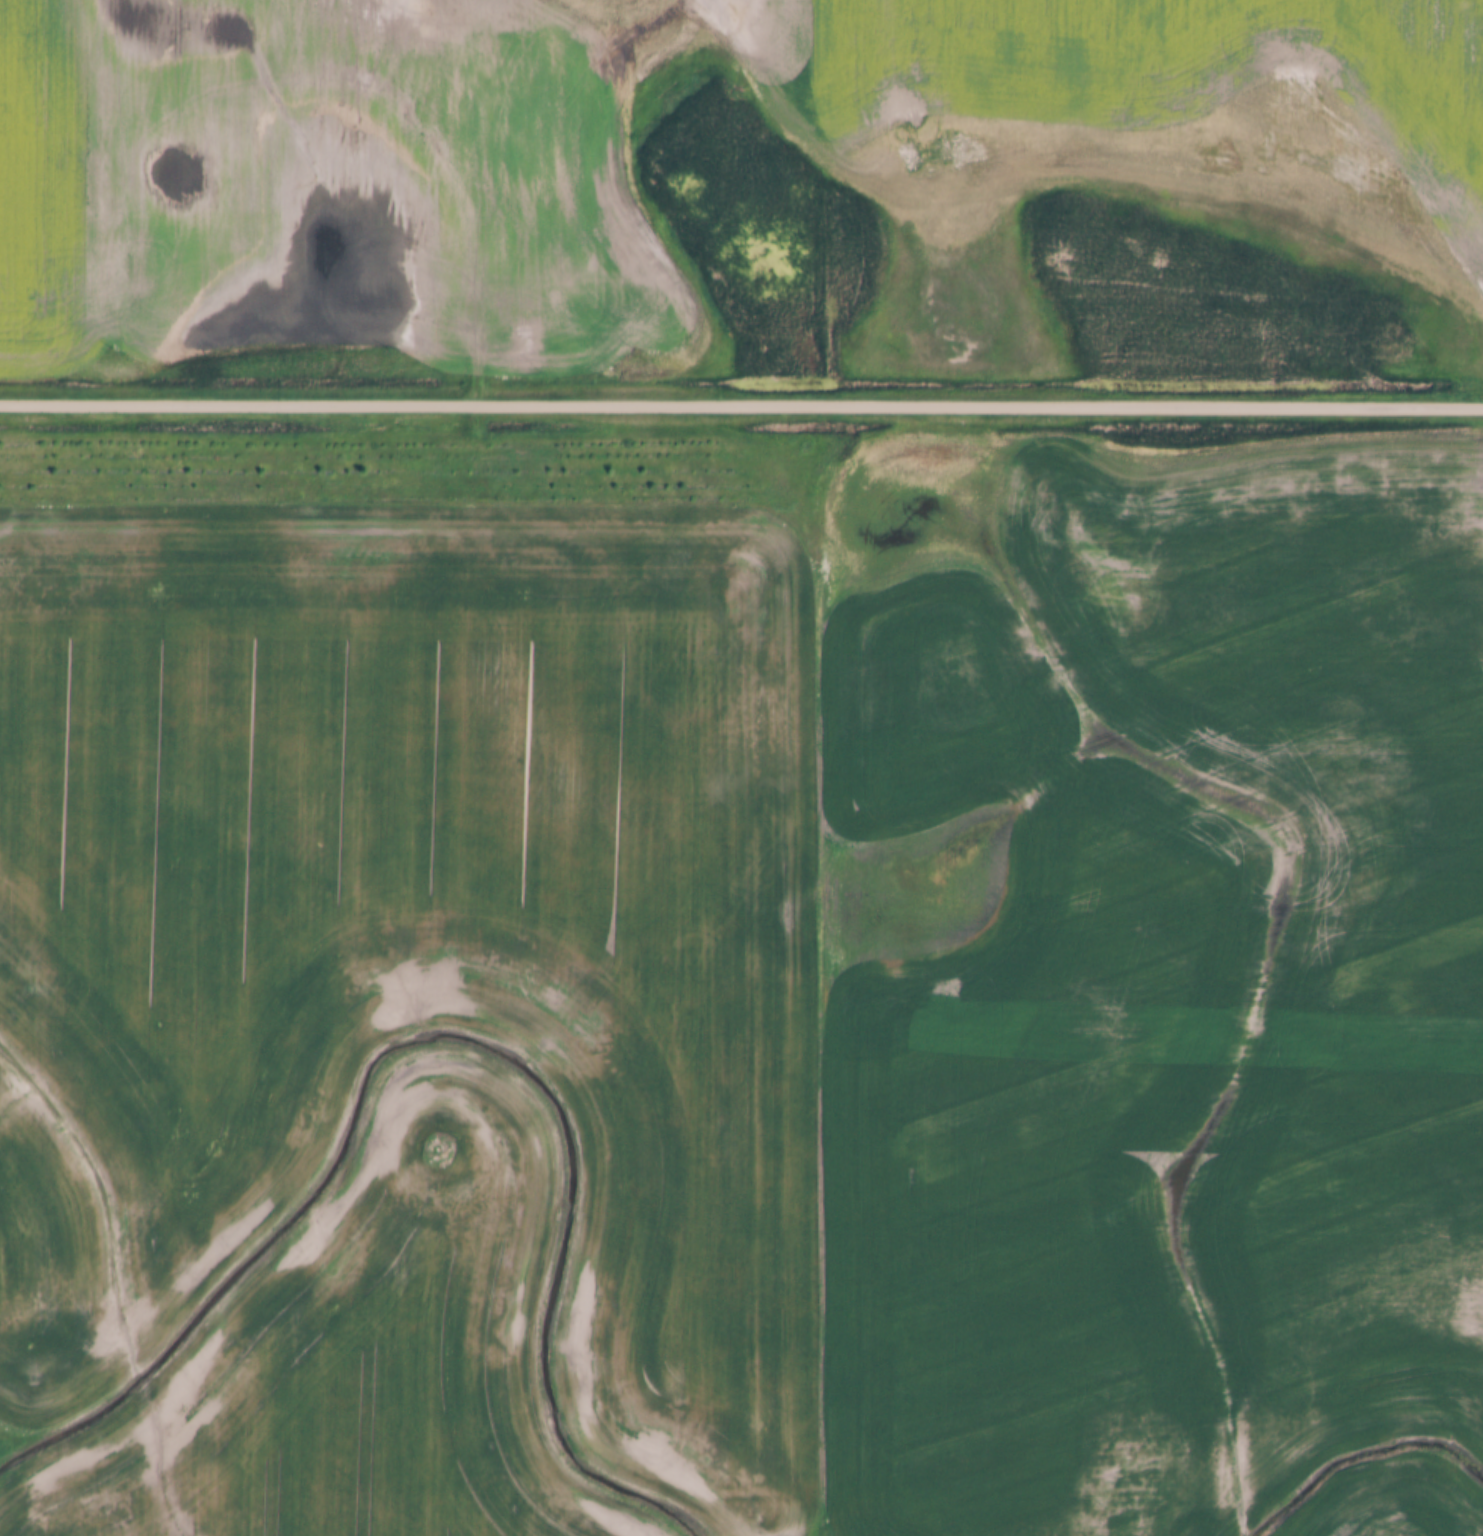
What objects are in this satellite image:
road: (741, 402)

